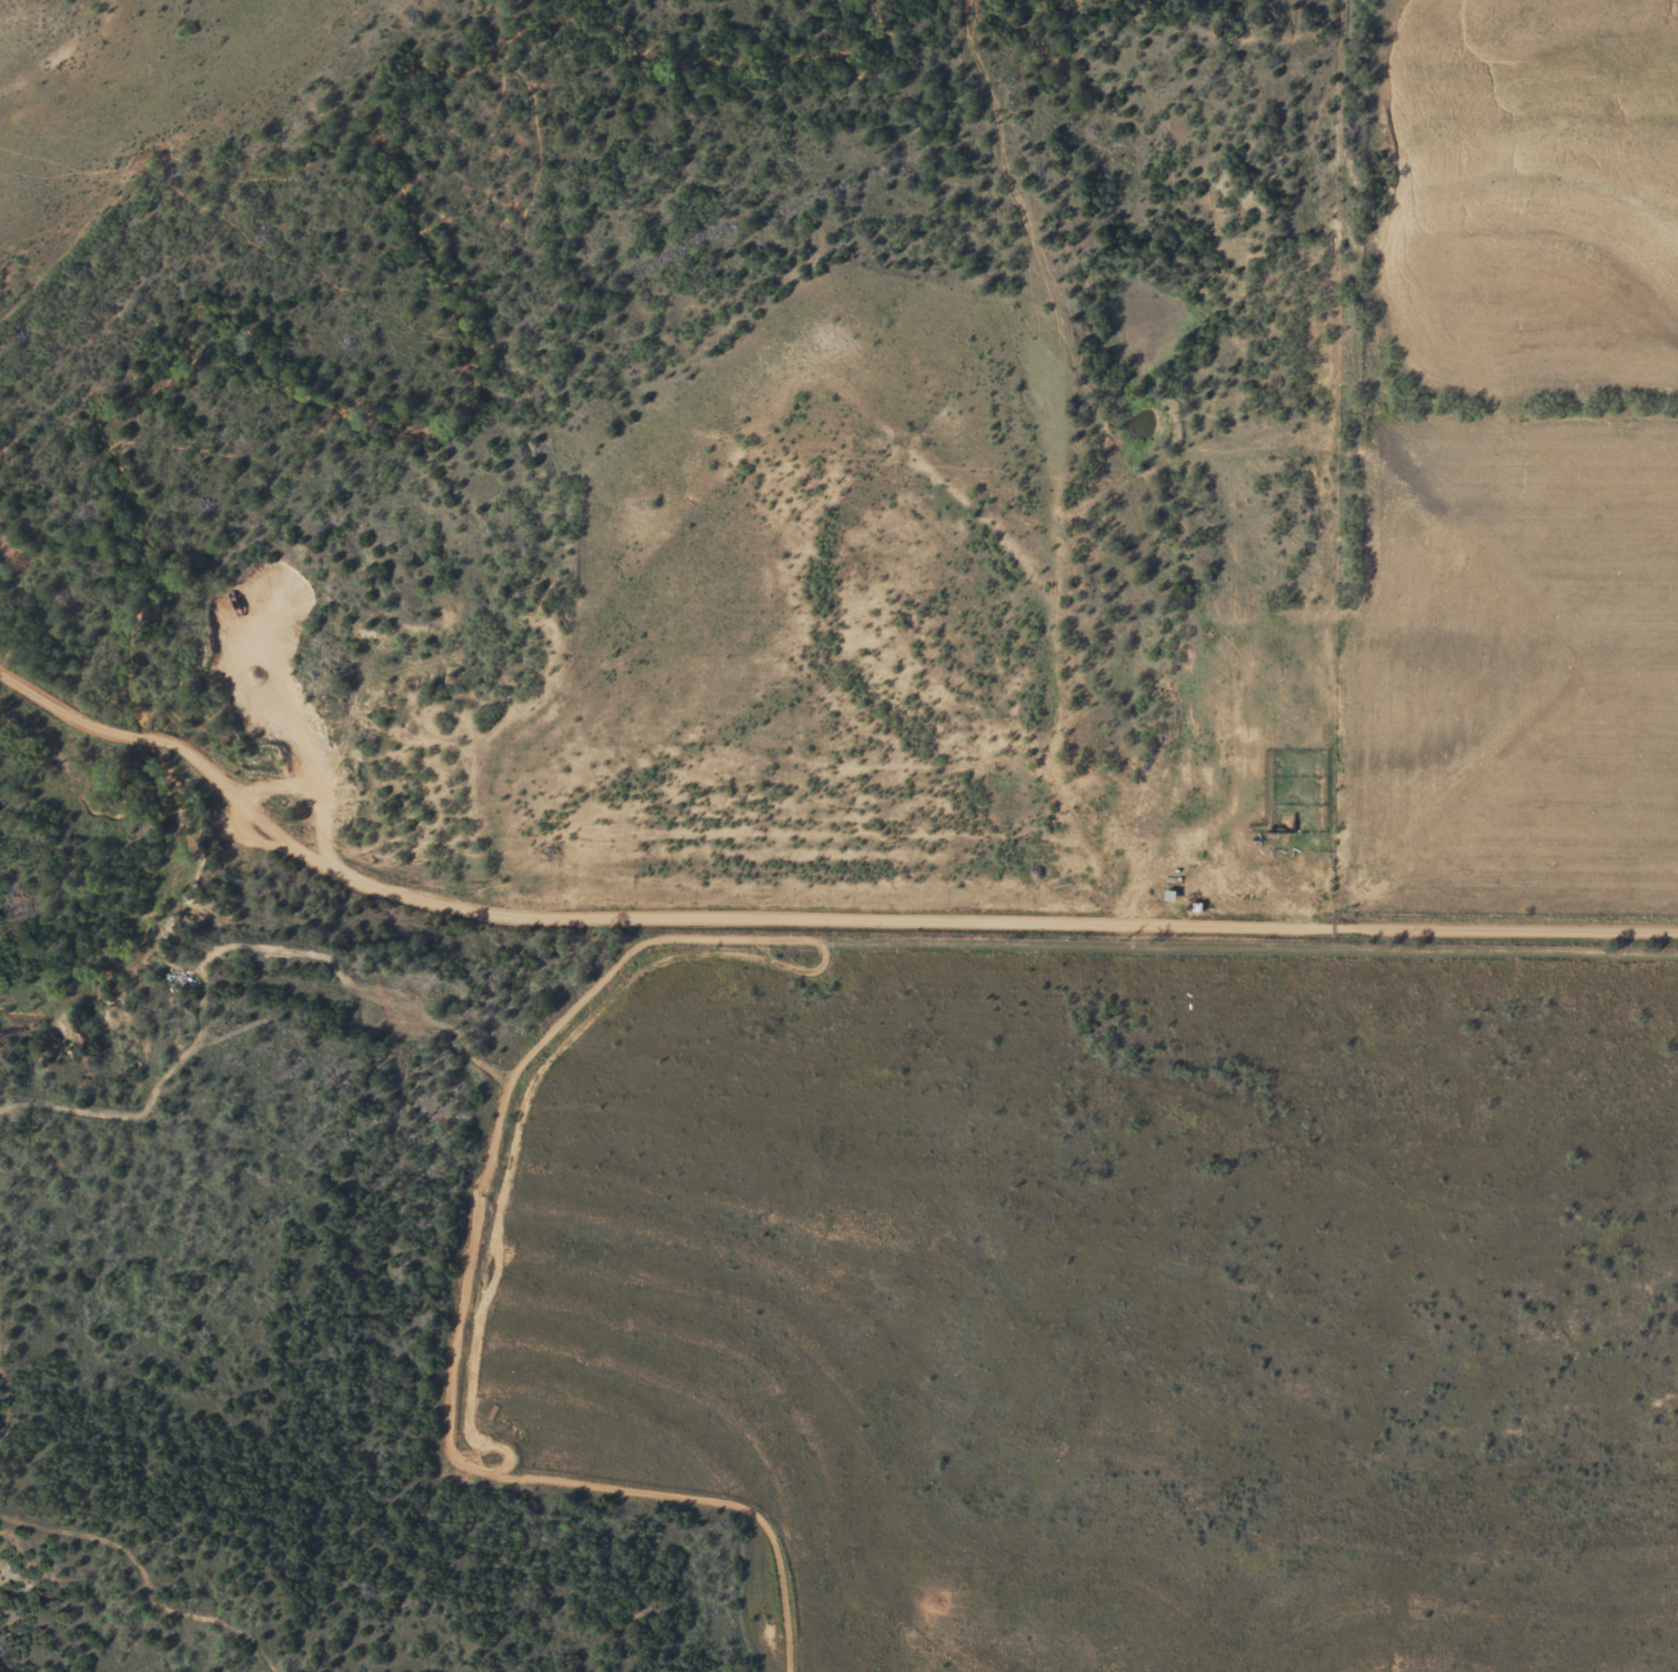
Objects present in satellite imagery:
road: (69, 706)
road: (887, 914)

